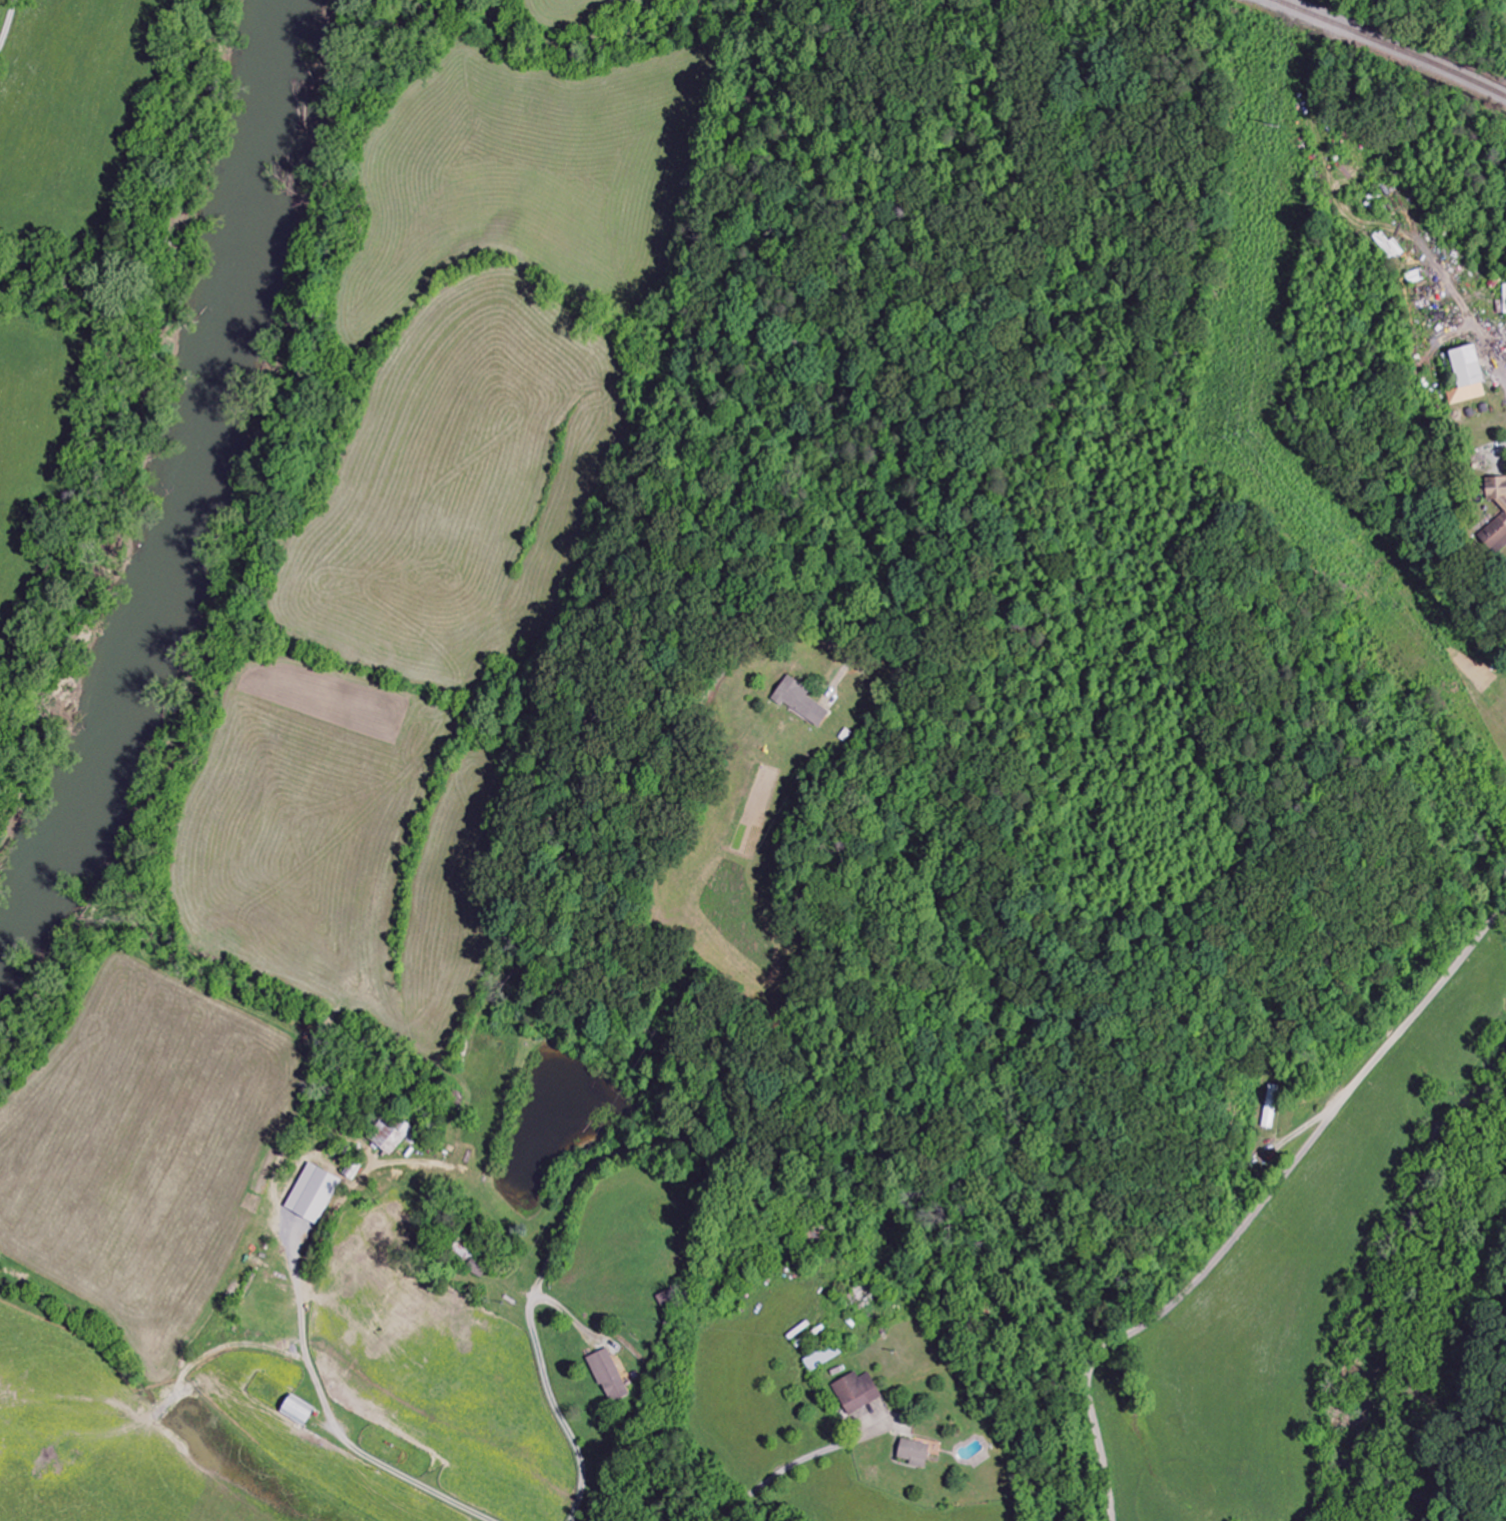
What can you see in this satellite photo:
road: (7, 26)
railway: (1394, 44)
building: (1466, 376)
river: (175, 464)
building: (1498, 525)
building: (799, 702)
road: (649, 1029)
building: (1272, 1107)
building: (389, 1137)
building: (313, 1194)
road: (1262, 1210)
building: (473, 1268)
road: (497, 1281)
building: (821, 1357)
building: (608, 1376)
building: (856, 1392)
building: (296, 1410)
building: (913, 1453)

